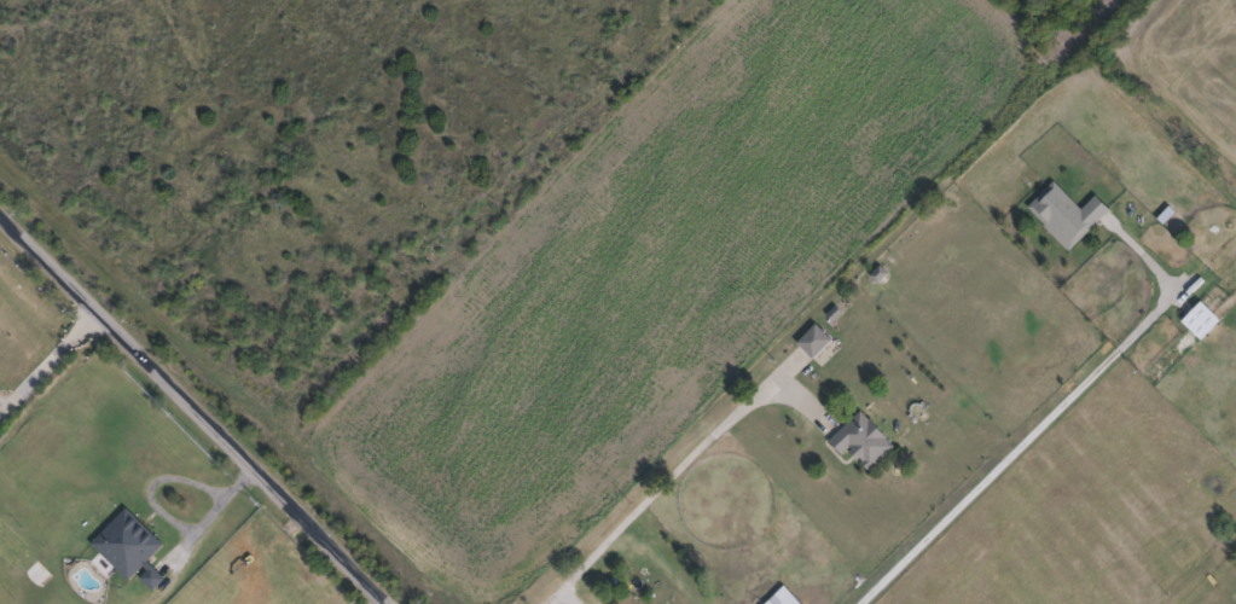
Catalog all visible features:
building: (1064, 213)
building: (1199, 319)
building: (812, 339)
road: (48, 359)
road: (197, 403)
building: (861, 442)
road: (1011, 452)
road: (656, 490)
road: (169, 519)
building: (128, 547)
building: (781, 597)

